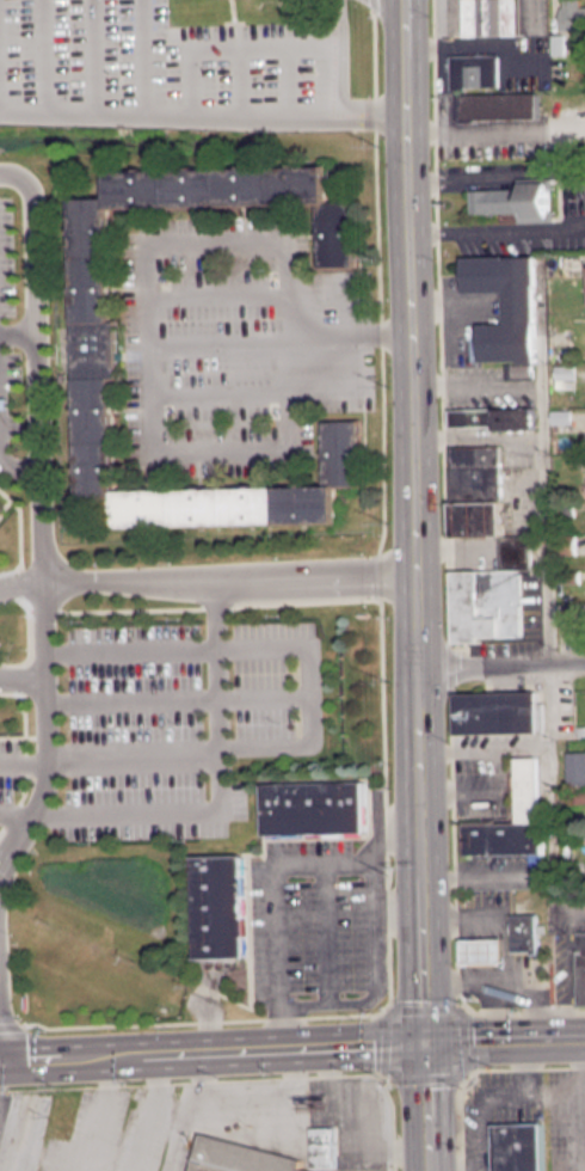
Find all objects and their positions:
building: (572, 14)
building: (492, 16)
road: (388, 17)
road: (263, 47)
road: (47, 54)
road: (93, 54)
road: (144, 54)
parking lot: (171, 68)
road: (240, 78)
road: (287, 78)
building: (486, 88)
road: (202, 109)
road: (23, 179)
building: (518, 196)
road: (147, 290)
road: (217, 295)
building: (505, 301)
road: (18, 332)
road: (218, 339)
building: (97, 347)
building: (518, 370)
building: (564, 376)
road: (503, 382)
building: (4, 401)
building: (561, 416)
building: (493, 417)
road: (478, 435)
road: (16, 464)
building: (4, 515)
road: (412, 521)
road: (41, 545)
building: (515, 550)
road: (547, 550)
road: (227, 578)
road: (20, 584)
road: (130, 648)
road: (499, 664)
road: (21, 681)
road: (308, 692)
road: (176, 693)
building: (498, 712)
road: (110, 755)
building: (574, 767)
road: (220, 786)
building: (524, 789)
building: (579, 796)
building: (320, 809)
road: (16, 814)
building: (504, 838)
road: (507, 873)
road: (276, 894)
building: (222, 907)
road: (578, 908)
road: (396, 911)
parking lot: (318, 919)
building: (524, 931)
road: (325, 933)
building: (481, 950)
gas station: (482, 951)
road: (375, 960)
building: (580, 965)
road: (571, 974)
road: (503, 1041)
traffic signals: (423, 1043)
road: (211, 1052)
road: (581, 1097)
road: (242, 1099)
road: (424, 1106)
road: (144, 1111)
road: (94, 1114)
road: (161, 1130)
road: (179, 1134)
building: (322, 1147)
building: (518, 1147)
building: (241, 1157)

